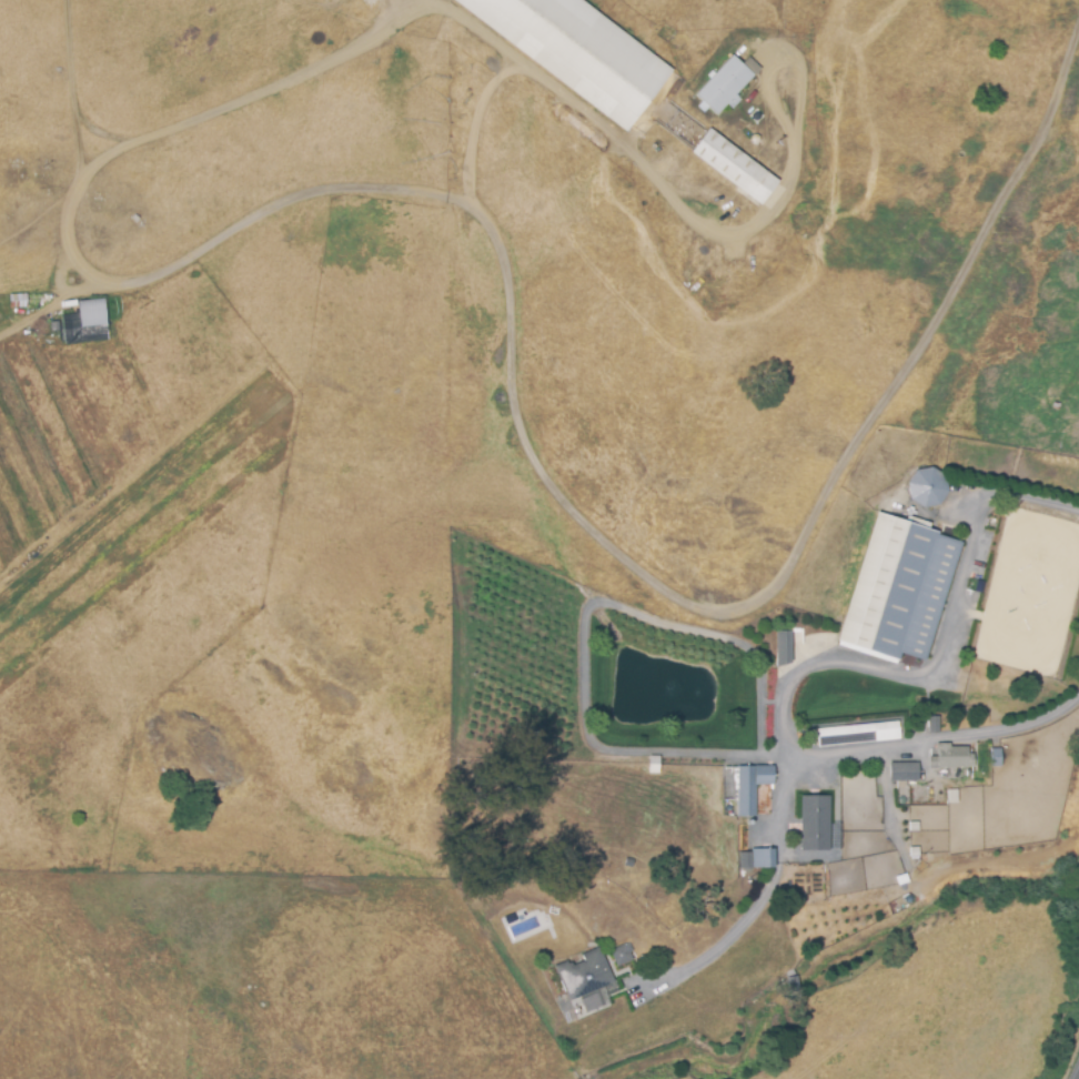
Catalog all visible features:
road: (317, 64)
building: (724, 84)
building: (735, 167)
building: (85, 321)
building: (926, 486)
road: (591, 523)
building: (899, 589)
building: (781, 647)
road: (942, 654)
building: (857, 734)
road: (779, 755)
building: (954, 755)
building: (995, 757)
building: (908, 769)
building: (754, 786)
building: (817, 820)
building: (759, 858)
road: (765, 897)
building: (622, 955)
building: (588, 978)
road: (1076, 1072)

